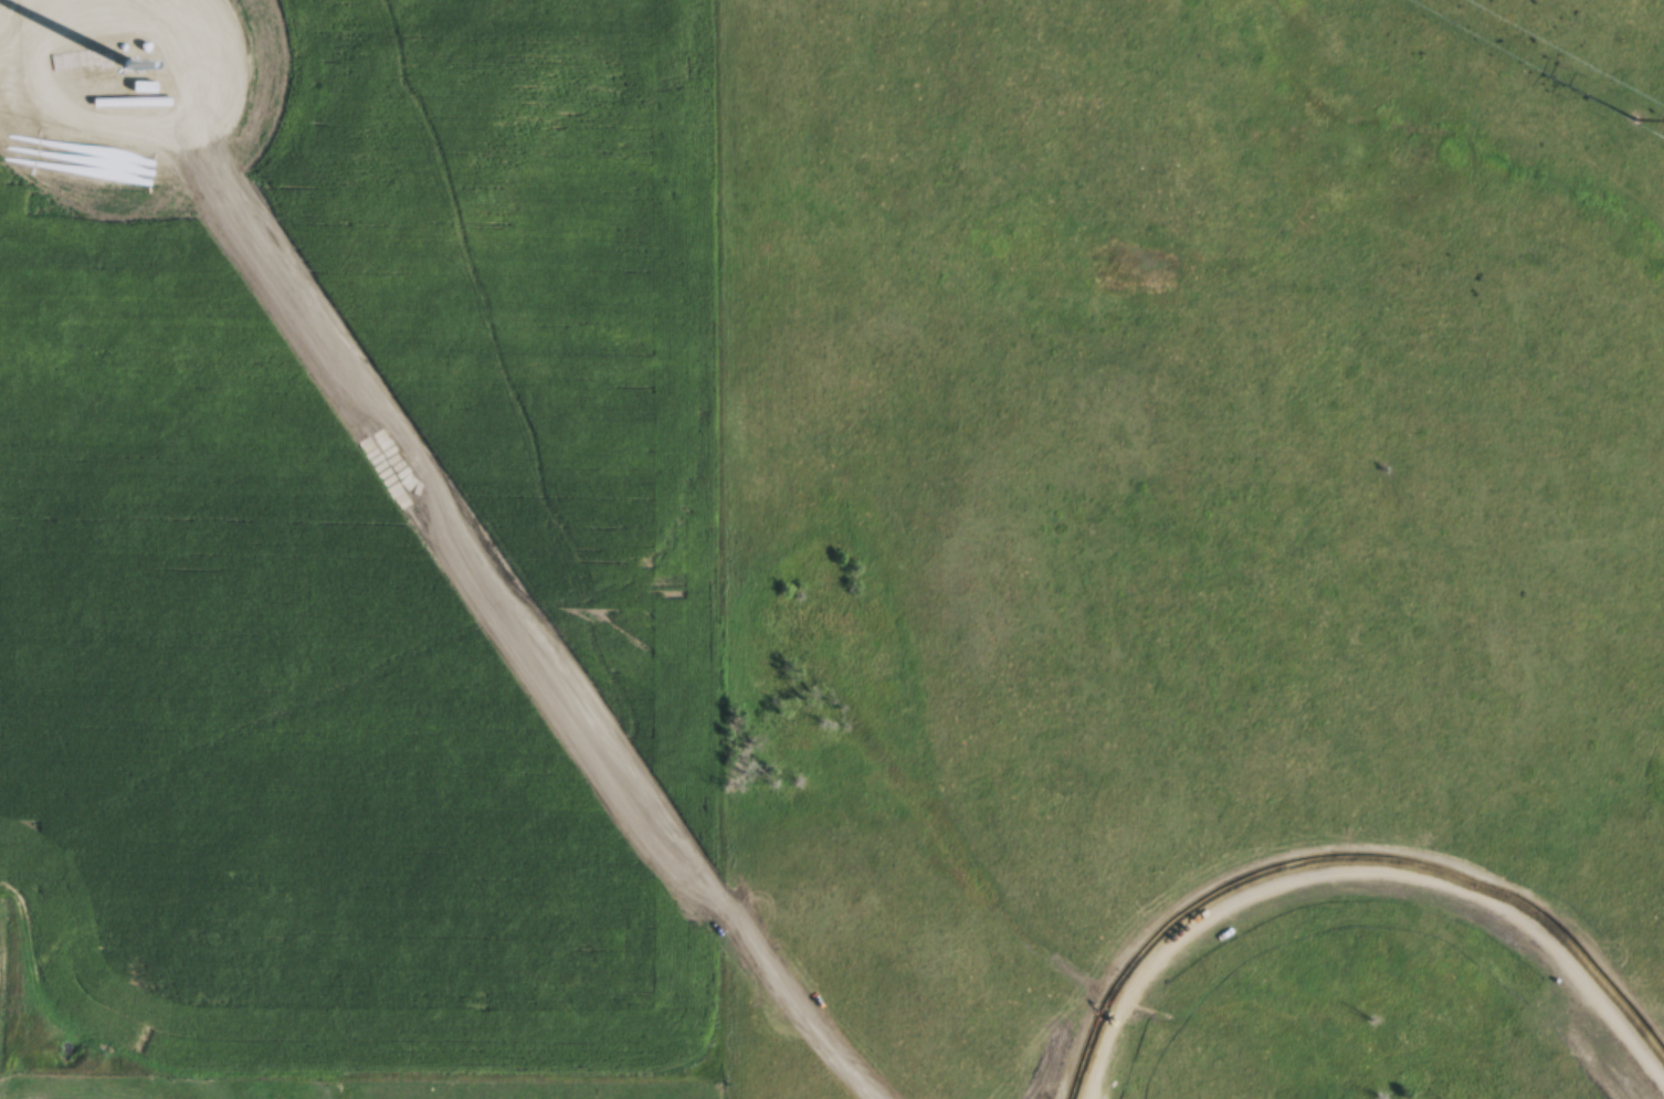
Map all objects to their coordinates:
wind turbine: (124, 59)
power tower: (1641, 123)

